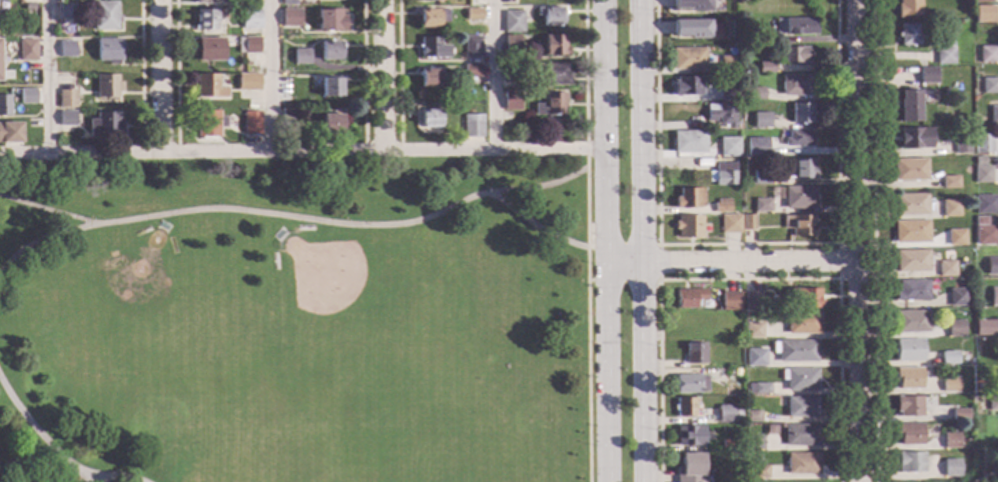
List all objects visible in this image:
building: (426, 0)
building: (982, 1)
building: (210, 2)
building: (287, 3)
building: (693, 5)
building: (907, 8)
building: (64, 10)
building: (473, 14)
building: (983, 14)
building: (103, 16)
building: (550, 16)
building: (290, 18)
building: (432, 18)
building: (250, 19)
building: (204, 20)
building: (330, 20)
building: (512, 22)
building: (794, 26)
building: (692, 28)
building: (731, 30)
building: (906, 35)
building: (719, 36)
building: (759, 36)
building: (511, 43)
building: (247, 46)
building: (554, 46)
building: (471, 47)
building: (431, 48)
building: (65, 49)
building: (209, 49)
building: (25, 50)
building: (107, 50)
building: (330, 51)
building: (796, 54)
building: (943, 55)
building: (987, 55)
building: (300, 57)
building: (688, 59)
building: (508, 60)
building: (728, 64)
building: (766, 67)
building: (471, 71)
building: (510, 74)
building: (551, 74)
building: (4, 75)
road: (362, 75)
road: (381, 75)
road: (398, 75)
road: (493, 75)
road: (139, 76)
road: (160, 76)
road: (174, 76)
road: (267, 76)
building: (927, 76)
road: (46, 77)
building: (428, 78)
building: (247, 82)
building: (795, 85)
building: (105, 86)
building: (207, 86)
building: (686, 86)
building: (988, 86)
building: (329, 87)
building: (727, 91)
building: (755, 93)
building: (26, 96)
building: (65, 99)
building: (511, 101)
building: (551, 104)
building: (3, 105)
building: (910, 106)
building: (801, 113)
building: (721, 114)
building: (993, 115)
building: (428, 118)
building: (65, 119)
building: (288, 119)
building: (761, 120)
building: (250, 123)
building: (330, 124)
building: (103, 125)
building: (207, 125)
building: (471, 126)
building: (12, 133)
building: (798, 138)
building: (915, 138)
building: (688, 142)
building: (982, 143)
building: (962, 146)
building: (728, 147)
building: (757, 147)
road: (304, 151)
building: (798, 169)
building: (909, 170)
building: (722, 174)
building: (983, 175)
building: (761, 177)
building: (949, 182)
building: (799, 198)
building: (688, 199)
building: (909, 204)
building: (985, 204)
building: (762, 205)
building: (721, 206)
building: (950, 208)
road: (50, 211)
building: (747, 222)
road: (533, 224)
building: (730, 224)
building: (799, 225)
road: (348, 227)
building: (688, 227)
building: (911, 232)
building: (985, 235)
building: (955, 238)
road: (586, 240)
road: (608, 240)
road: (645, 241)
road: (856, 241)
road: (873, 241)
road: (44, 242)
road: (746, 245)
road: (837, 261)
building: (912, 261)
road: (732, 263)
road: (659, 264)
building: (992, 266)
building: (945, 269)
park: (323, 273)
park: (138, 277)
road: (750, 281)
building: (911, 290)
building: (956, 297)
building: (994, 297)
building: (688, 298)
building: (800, 299)
building: (729, 301)
building: (751, 301)
building: (745, 316)
park: (298, 321)
building: (911, 322)
building: (702, 323)
building: (803, 324)
building: (955, 328)
building: (984, 328)
building: (753, 330)
building: (908, 350)
building: (796, 351)
building: (694, 354)
building: (756, 358)
building: (948, 358)
building: (724, 360)
building: (733, 375)
building: (908, 378)
building: (799, 379)
building: (690, 384)
building: (949, 385)
building: (980, 386)
building: (759, 389)
building: (992, 402)
building: (908, 406)
building: (801, 407)
building: (687, 408)
building: (728, 414)
building: (959, 415)
building: (751, 416)
road: (38, 433)
building: (800, 435)
building: (909, 435)
building: (689, 436)
building: (950, 441)
building: (725, 443)
building: (753, 443)
building: (801, 463)
building: (909, 463)
park: (985, 467)
building: (689, 468)
building: (950, 468)
building: (759, 472)
road: (985, 476)
road: (109, 477)

